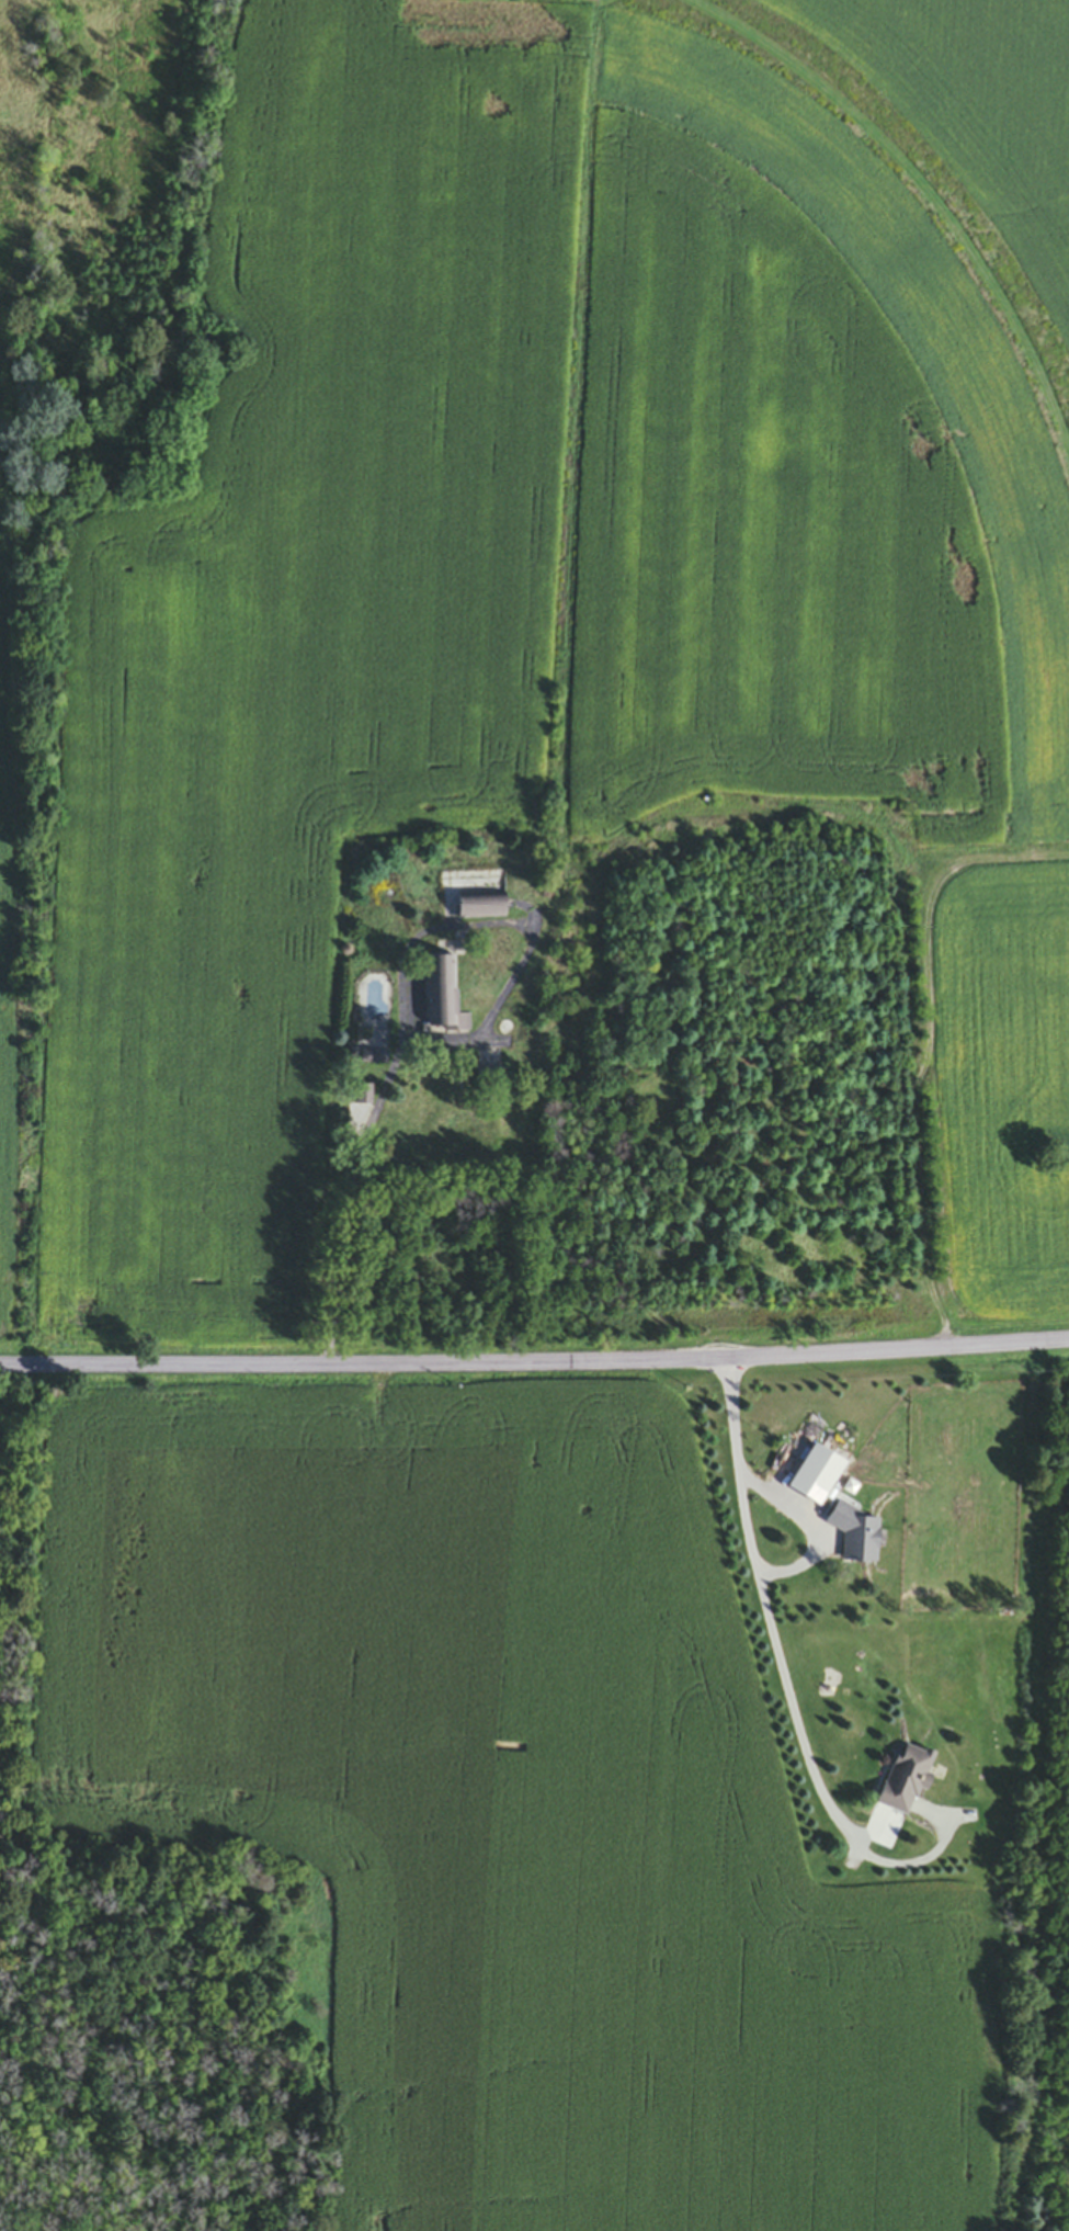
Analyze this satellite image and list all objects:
building: (481, 910)
building: (444, 999)
building: (375, 1060)
building: (364, 1098)
building: (456, 1128)
road: (534, 1361)
building: (817, 1475)
road: (809, 1527)
building: (856, 1534)
road: (765, 1615)
building: (906, 1780)

